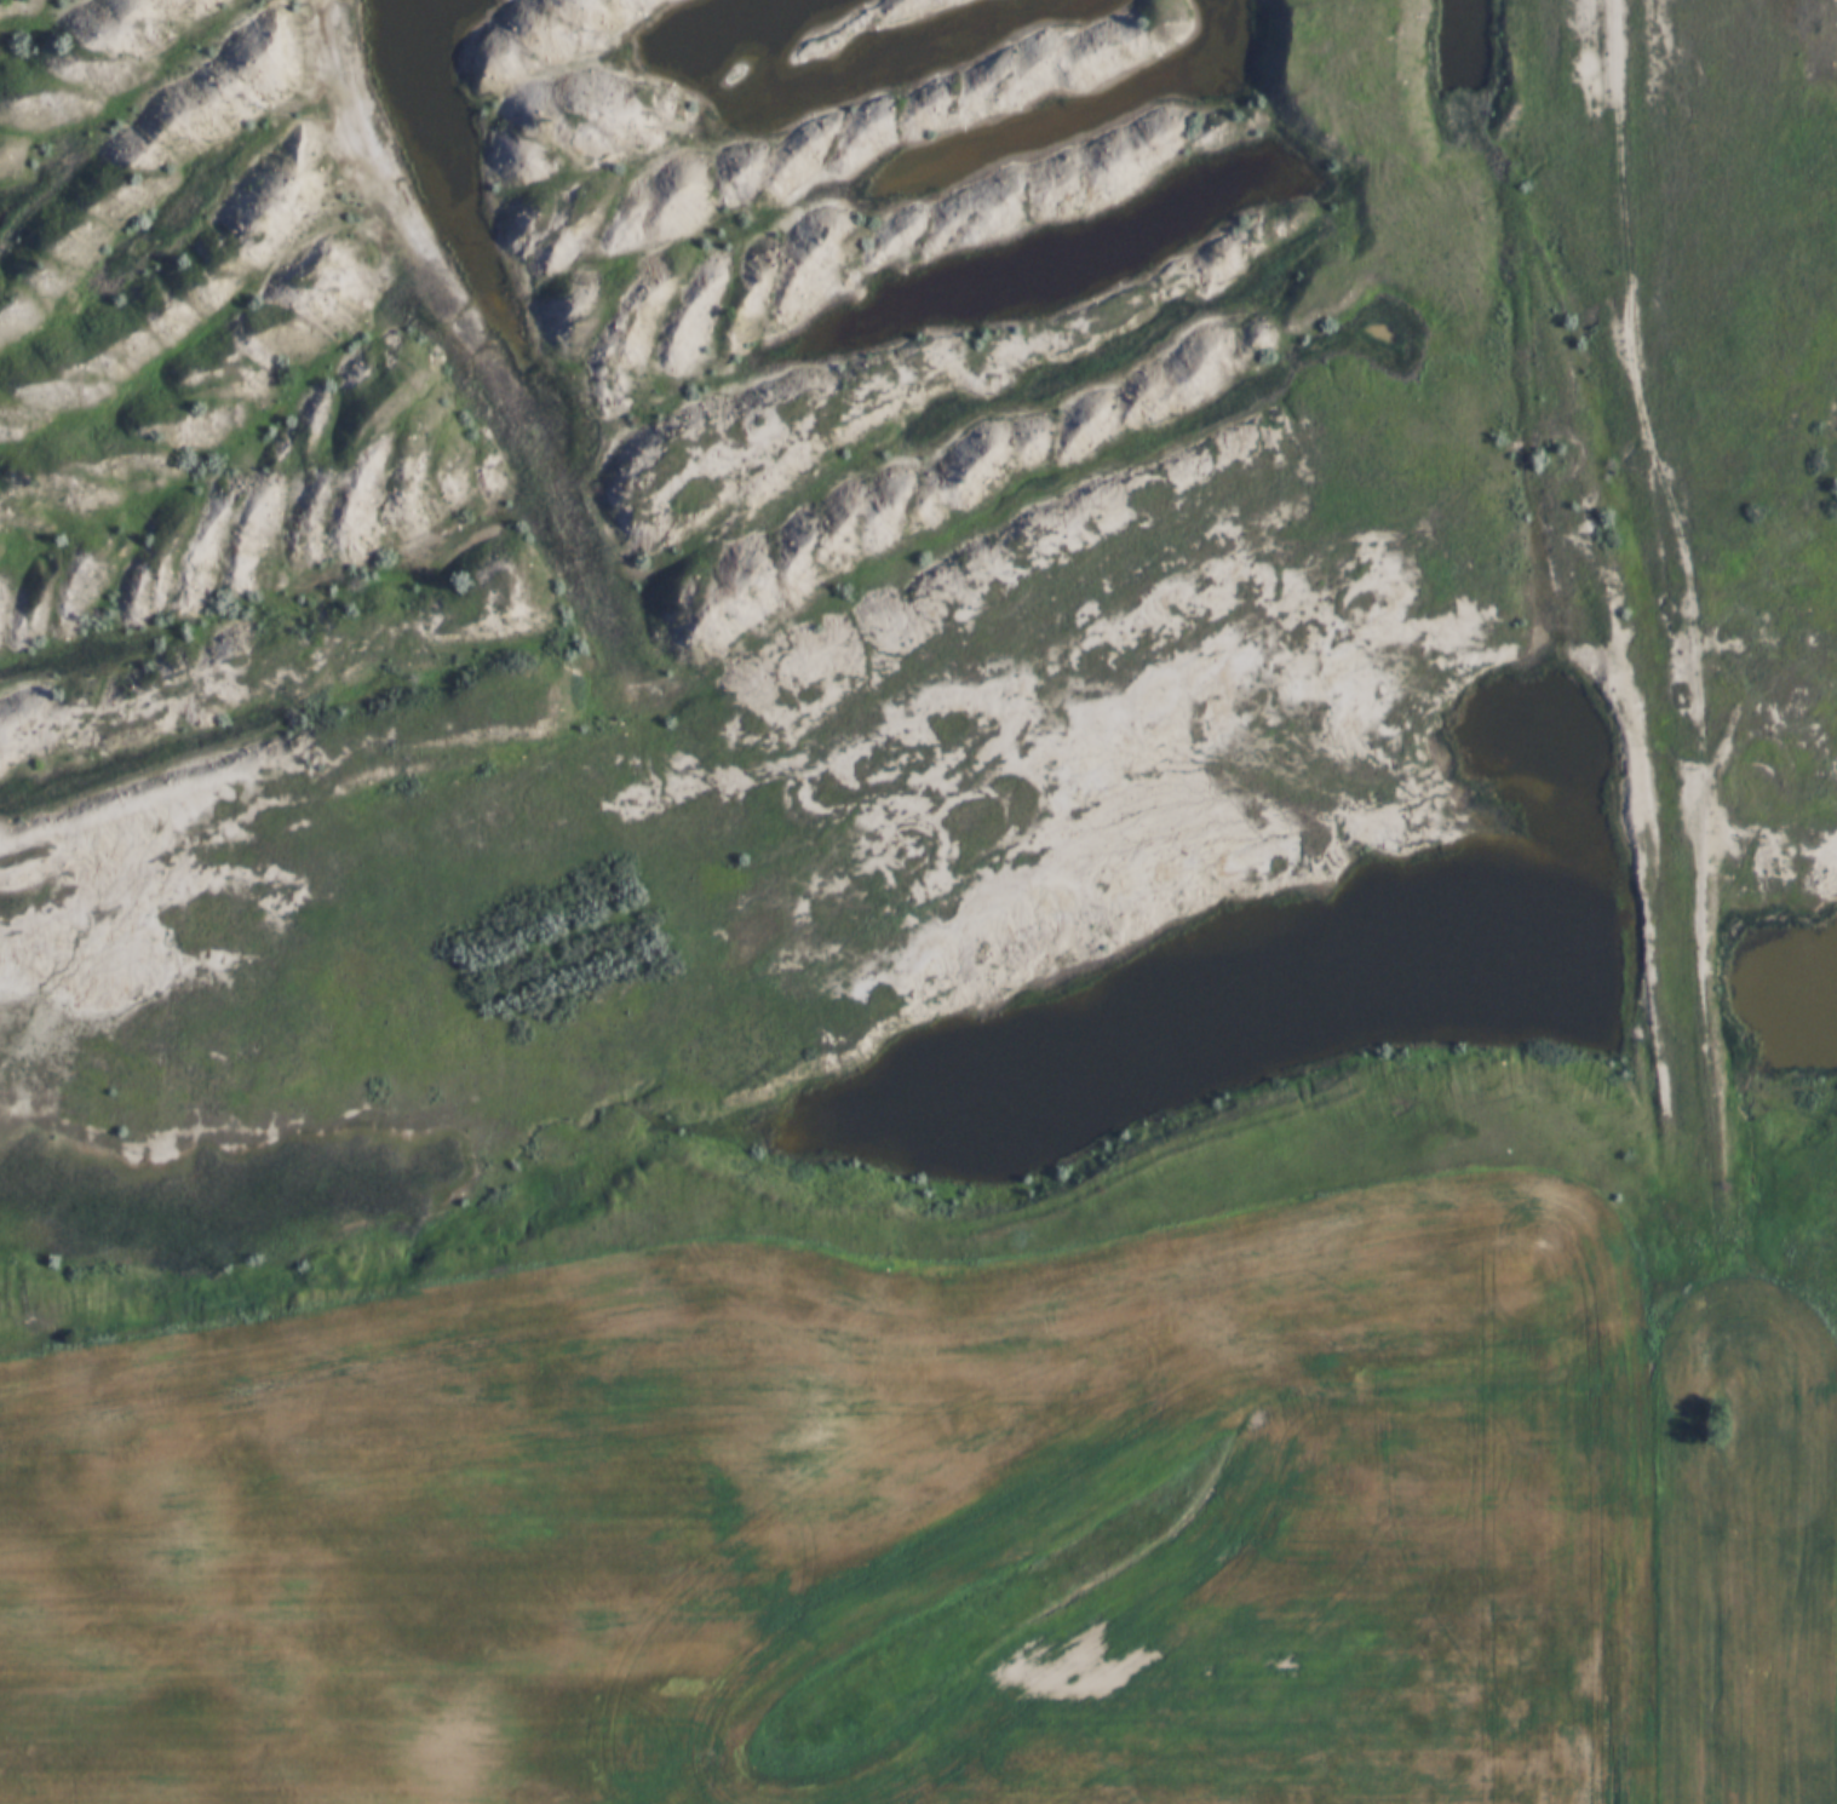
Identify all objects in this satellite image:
quarry: (905, 569)
road: (1701, 898)

